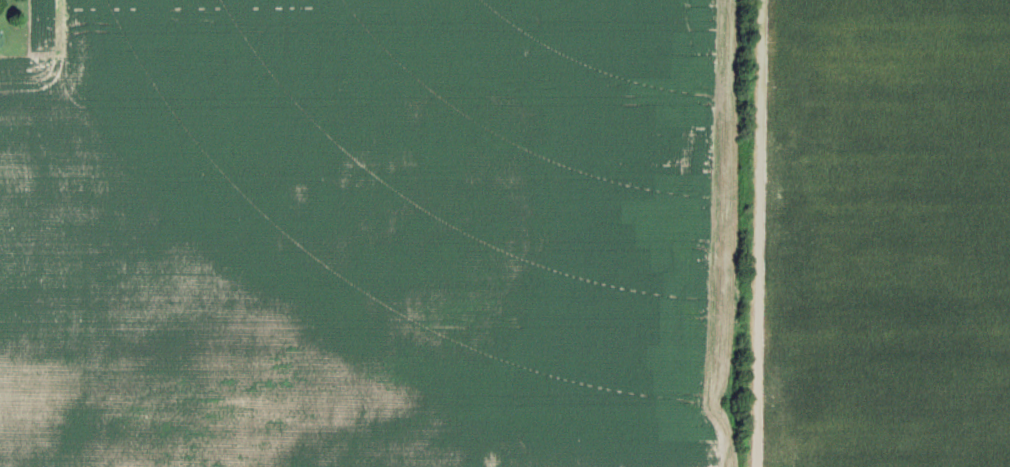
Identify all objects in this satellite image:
road: (761, 233)

